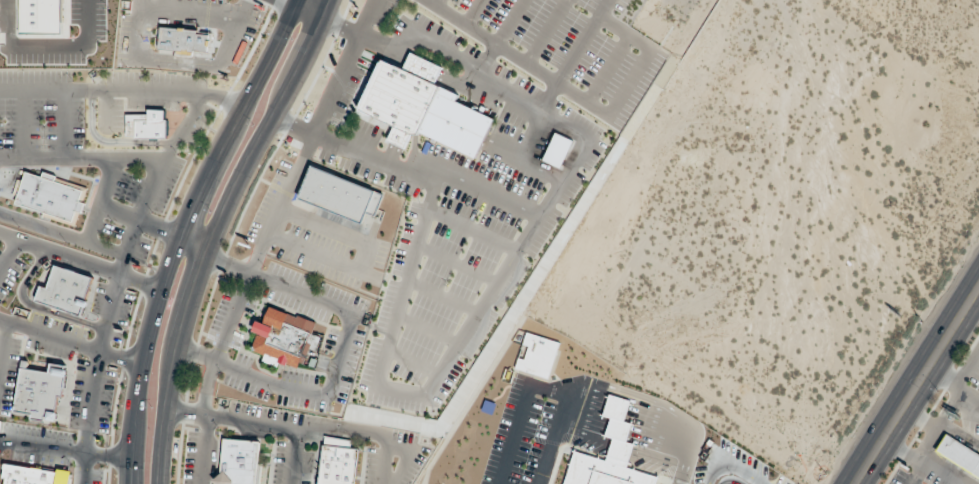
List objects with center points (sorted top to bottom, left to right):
road: (281, 1)
road: (314, 6)
road: (367, 17)
building: (31, 19)
road: (43, 54)
road: (531, 67)
road: (338, 78)
road: (122, 92)
building: (423, 106)
road: (105, 110)
road: (23, 125)
road: (63, 125)
building: (147, 125)
road: (293, 125)
road: (268, 127)
road: (110, 142)
building: (558, 150)
road: (81, 159)
building: (339, 195)
building: (50, 197)
road: (100, 202)
road: (139, 220)
road: (181, 231)
road: (63, 235)
road: (192, 245)
road: (9, 253)
road: (362, 259)
road: (79, 261)
road: (118, 281)
road: (281, 284)
road: (245, 285)
building: (65, 291)
road: (35, 307)
power tower: (921, 321)
road: (3, 335)
building: (287, 339)
road: (69, 341)
building: (536, 354)
road: (968, 366)
road: (171, 367)
road: (954, 382)
road: (917, 384)
building: (38, 390)
road: (289, 390)
road: (585, 408)
road: (522, 414)
road: (613, 416)
road: (237, 422)
building: (617, 430)
road: (663, 431)
road: (367, 435)
road: (0, 442)
road: (0, 442)
road: (551, 443)
road: (64, 451)
road: (204, 451)
building: (957, 454)
road: (294, 457)
road: (407, 458)
building: (337, 462)
building: (241, 463)
building: (603, 472)
road: (684, 472)
power tower: (825, 474)
building: (33, 475)

